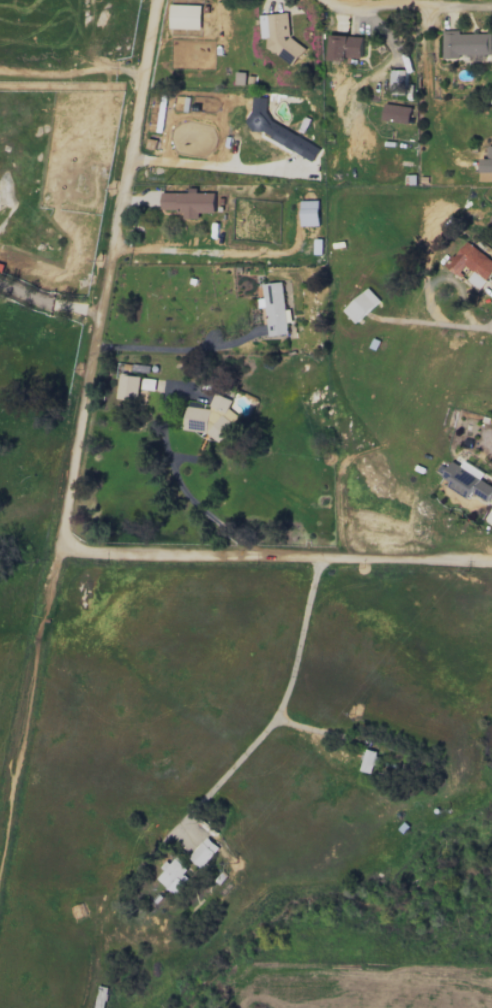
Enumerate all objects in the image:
road: (407, 4)
building: (184, 16)
road: (385, 33)
building: (278, 35)
building: (466, 43)
building: (345, 47)
building: (240, 77)
building: (399, 82)
building: (396, 113)
building: (278, 130)
road: (217, 166)
building: (486, 166)
building: (188, 202)
building: (309, 212)
road: (210, 251)
building: (471, 264)
road: (106, 273)
road: (444, 277)
road: (48, 300)
building: (360, 305)
building: (274, 308)
road: (433, 322)
road: (176, 348)
building: (148, 383)
building: (127, 387)
building: (209, 417)
building: (467, 480)
road: (180, 497)
road: (280, 556)
road: (280, 706)
road: (29, 708)
park: (235, 759)
building: (368, 761)
building: (203, 852)
building: (173, 876)

